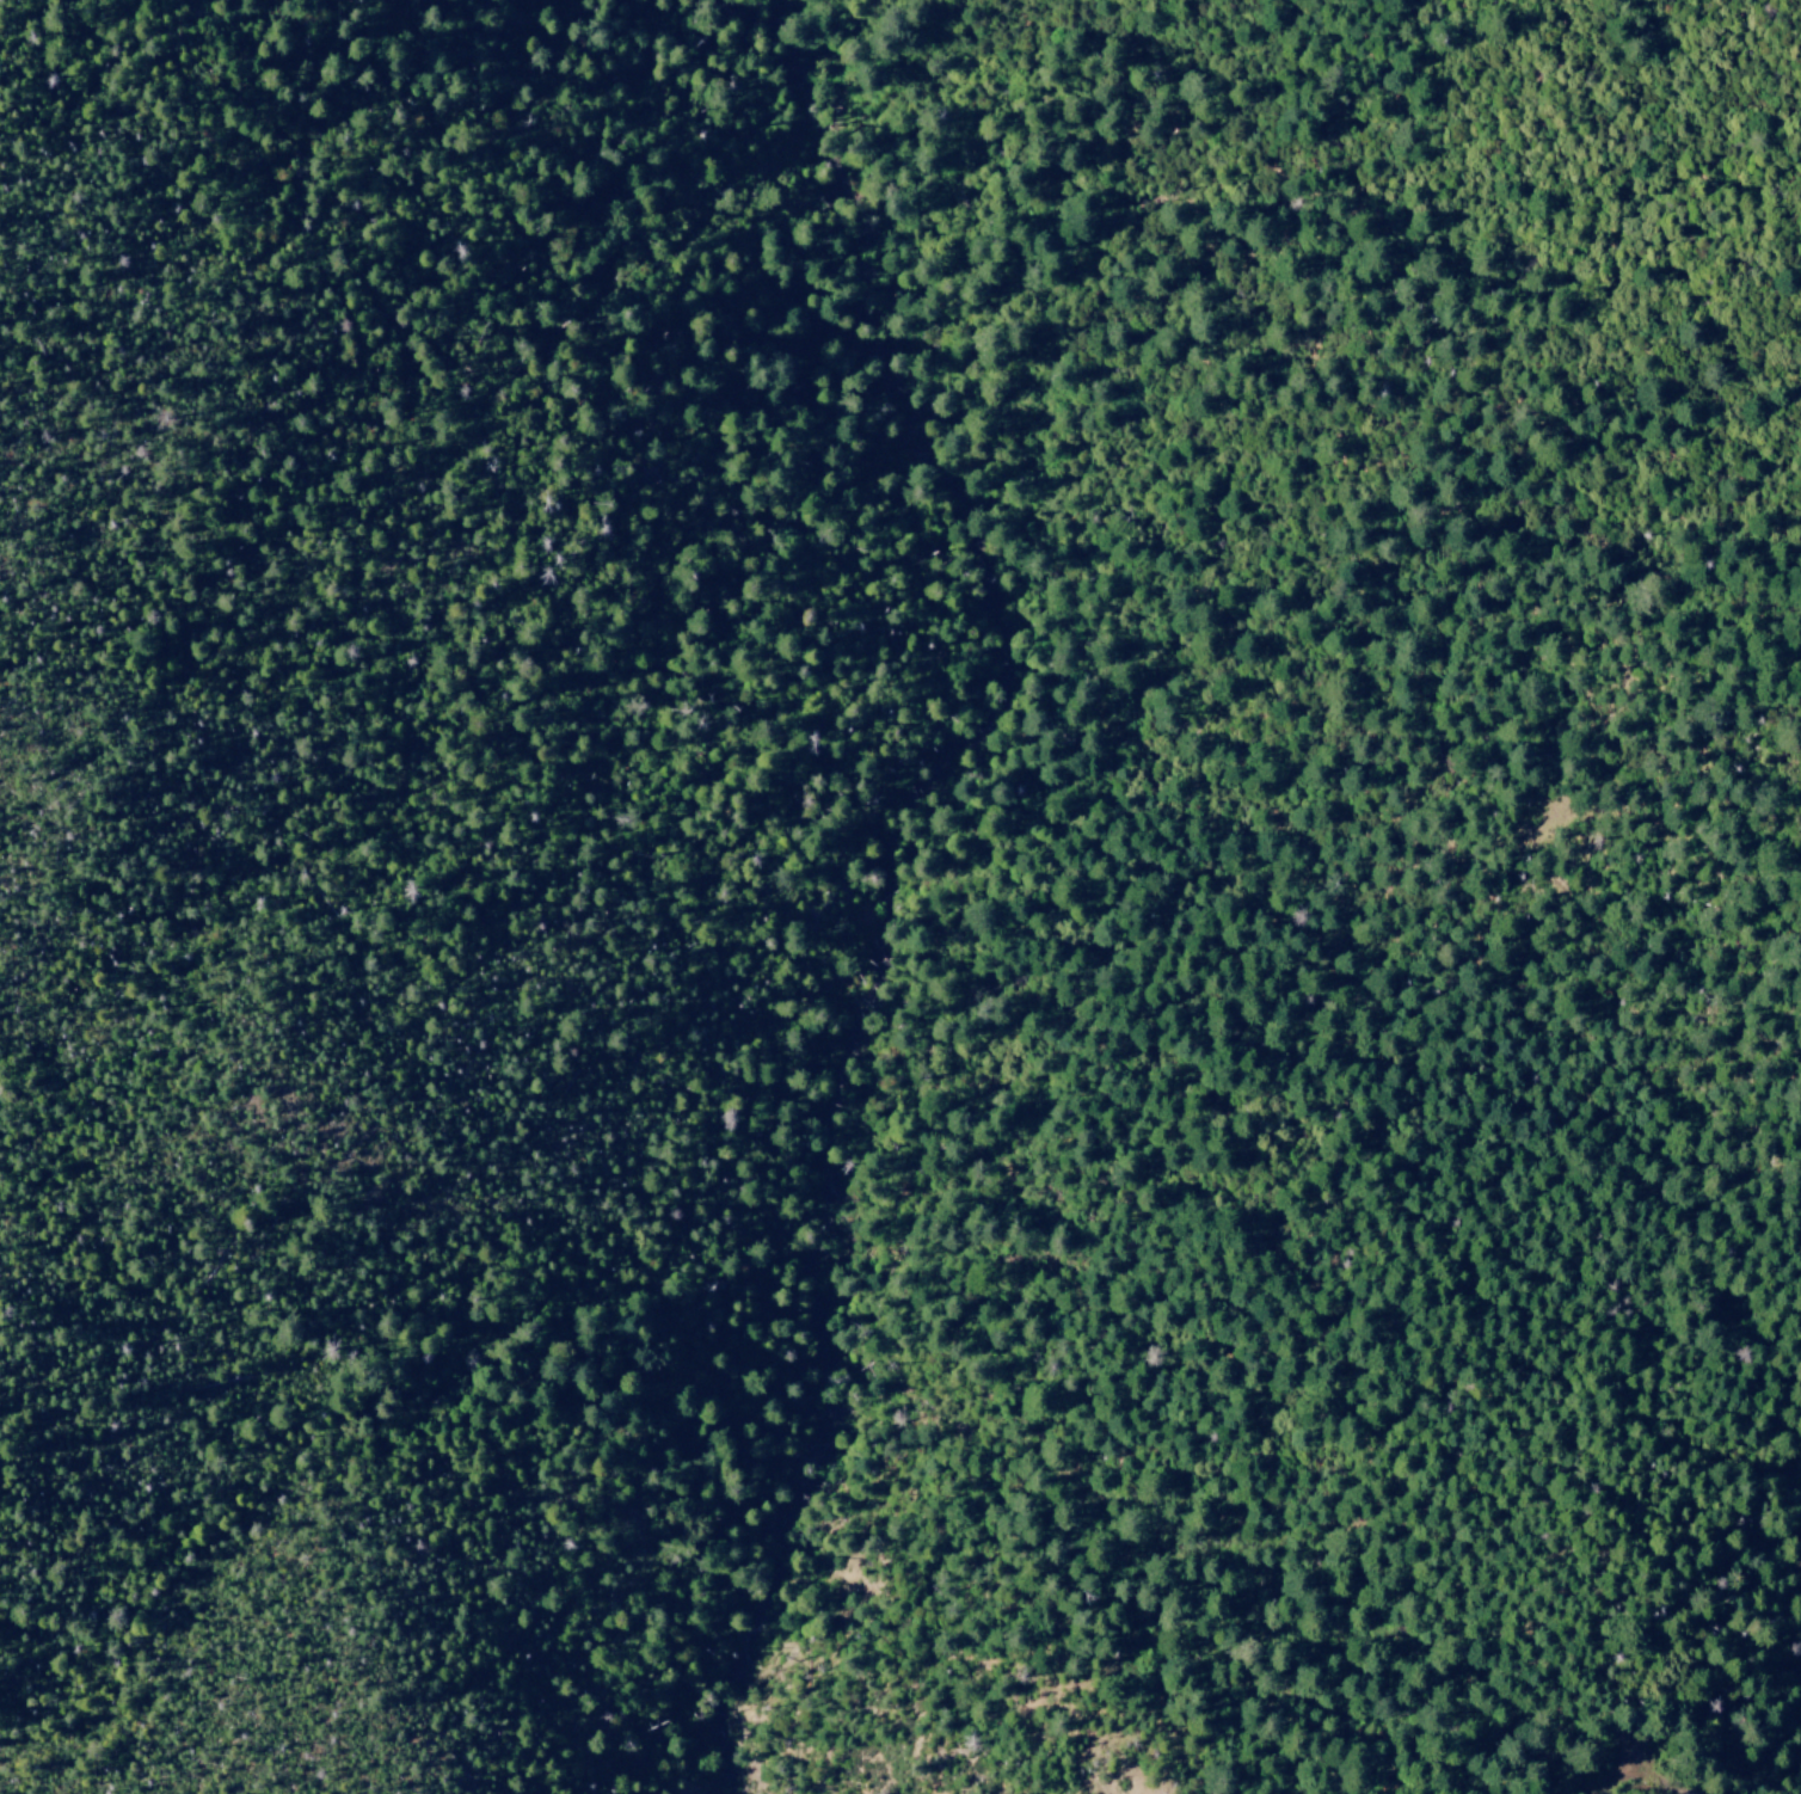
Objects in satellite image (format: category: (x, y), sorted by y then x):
road: (1586, 1747)

